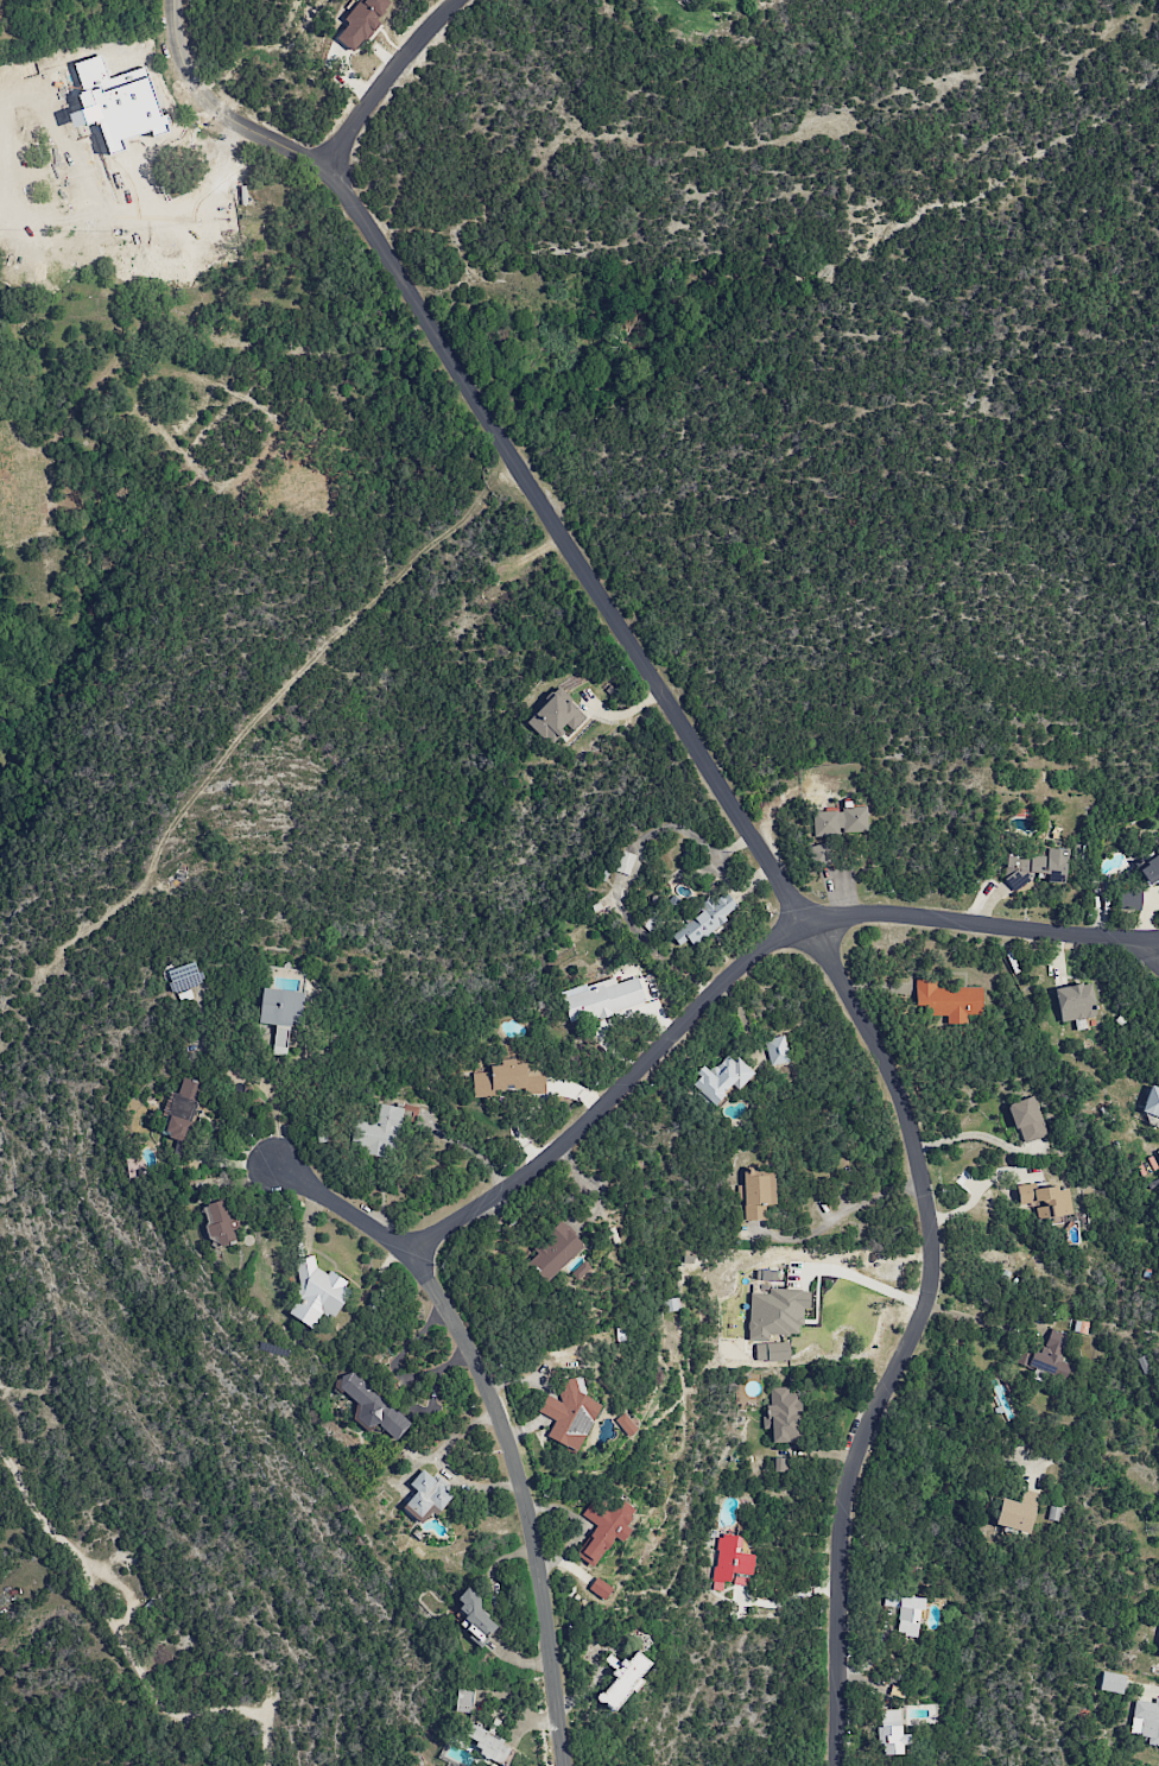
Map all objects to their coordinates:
building: (362, 21)
road: (386, 82)
building: (119, 176)
building: (229, 181)
road: (108, 221)
road: (501, 441)
building: (556, 716)
building: (841, 821)
building: (819, 854)
building: (625, 862)
building: (1034, 866)
building: (1149, 871)
building: (1129, 899)
building: (705, 919)
road: (1154, 944)
road: (736, 968)
building: (183, 979)
building: (601, 998)
building: (948, 1001)
building: (1075, 1001)
building: (280, 1013)
building: (509, 1078)
building: (720, 1080)
building: (1152, 1102)
building: (182, 1108)
building: (1027, 1119)
building: (378, 1132)
road: (976, 1134)
road: (467, 1146)
building: (1158, 1153)
building: (756, 1194)
building: (1045, 1200)
road: (840, 1213)
building: (220, 1221)
building: (553, 1252)
road: (868, 1283)
building: (317, 1292)
building: (775, 1312)
road: (978, 1321)
road: (912, 1336)
building: (772, 1352)
building: (1046, 1355)
building: (372, 1407)
building: (569, 1414)
building: (783, 1414)
road: (499, 1420)
building: (627, 1424)
road: (954, 1435)
building: (780, 1464)
building: (425, 1496)
building: (1016, 1512)
building: (604, 1528)
building: (730, 1563)
building: (600, 1588)
building: (905, 1614)
building: (474, 1616)
road: (123, 1642)
building: (1158, 1651)
building: (622, 1679)
building: (1111, 1682)
building: (463, 1701)
building: (1146, 1721)
building: (892, 1733)
building: (489, 1745)

